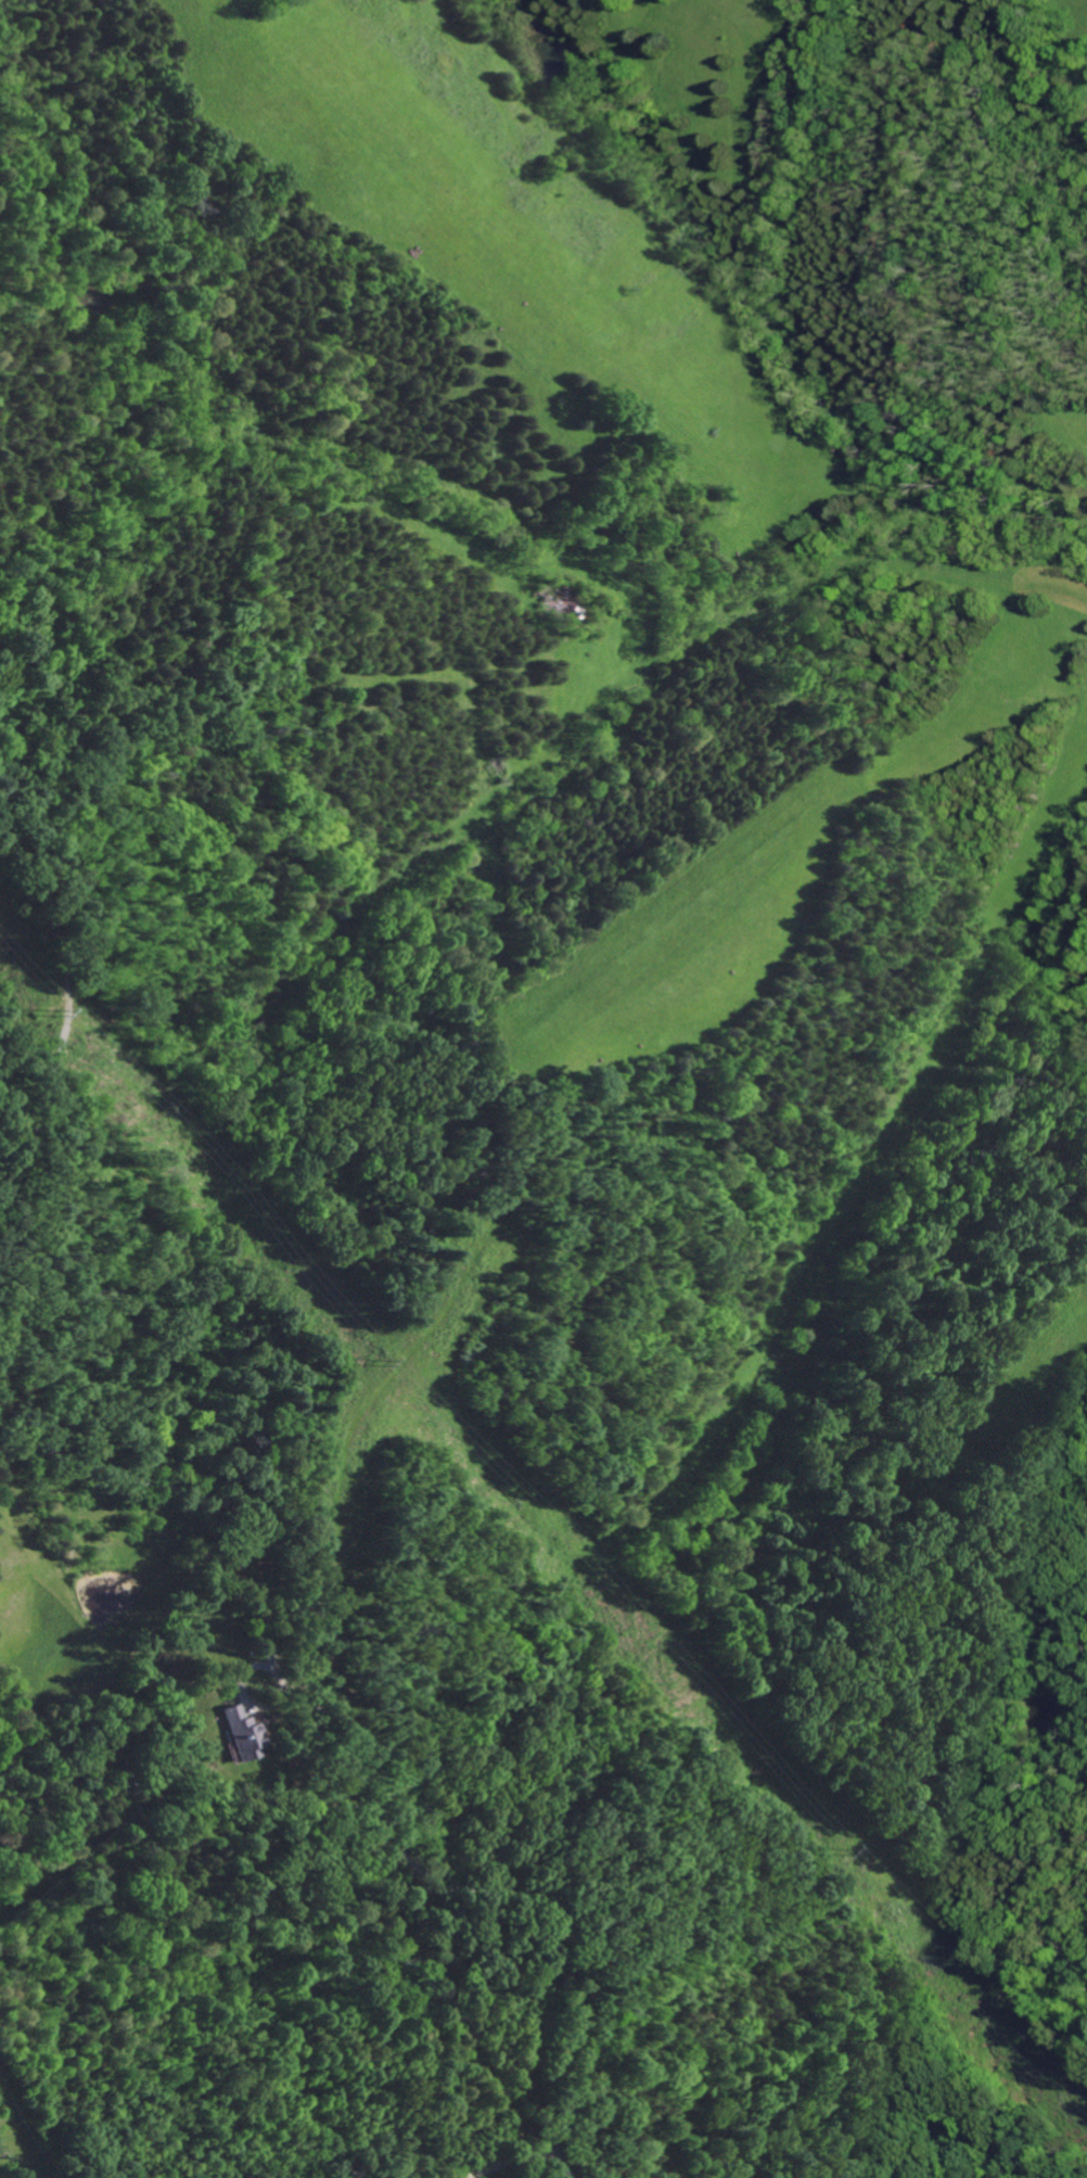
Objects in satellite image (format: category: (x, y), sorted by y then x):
road: (54, 1020)
building: (245, 1733)
road: (340, 1793)
road: (510, 2164)

